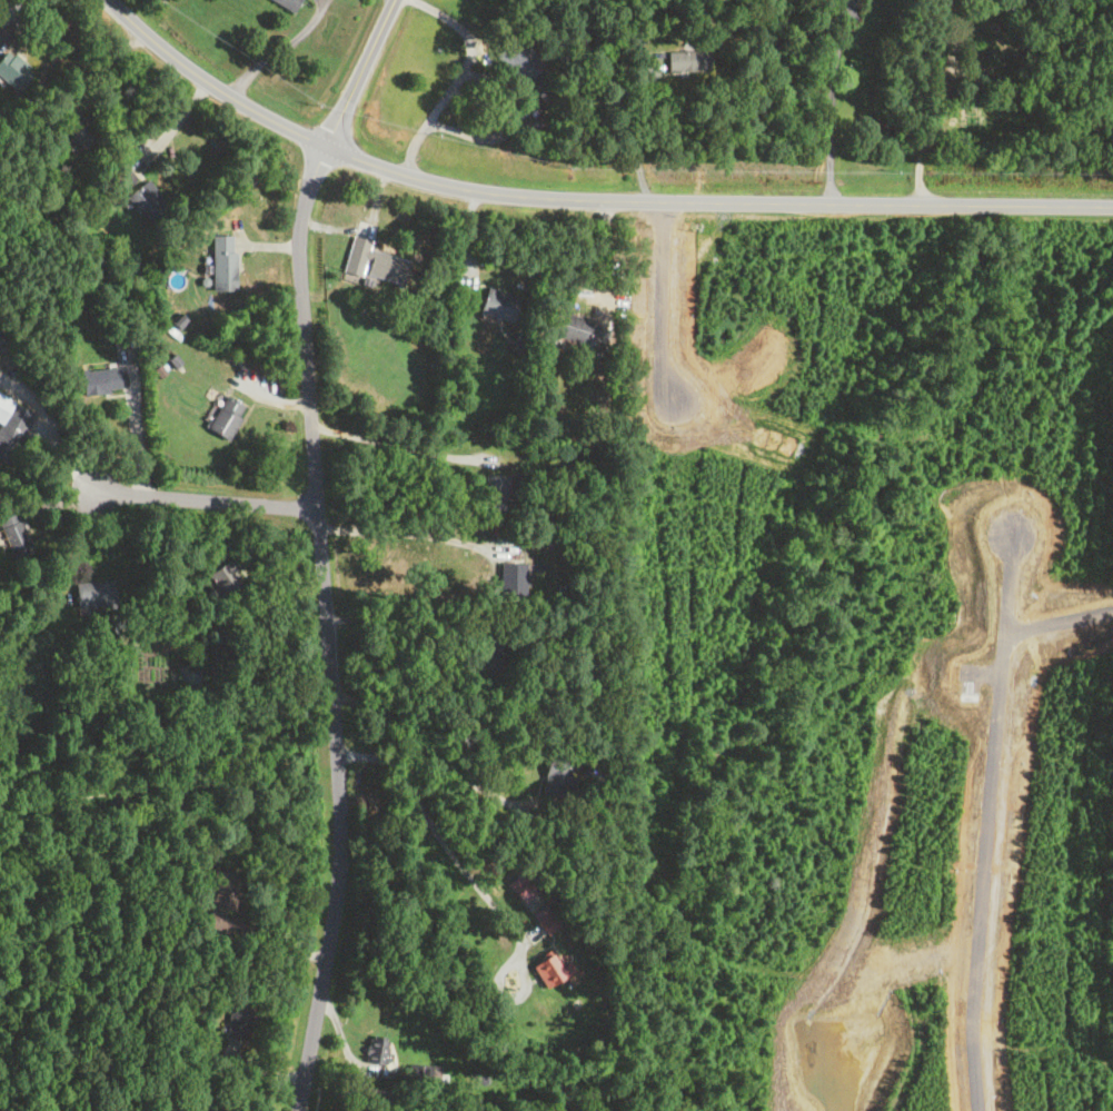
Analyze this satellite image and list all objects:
building: (286, 3)
road: (278, 49)
building: (686, 60)
building: (13, 69)
road: (360, 73)
building: (530, 76)
road: (453, 81)
road: (829, 105)
road: (942, 105)
road: (636, 132)
building: (77, 135)
building: (122, 177)
road: (584, 200)
building: (145, 201)
building: (221, 262)
building: (384, 267)
building: (496, 305)
building: (567, 327)
building: (98, 380)
building: (223, 417)
building: (10, 428)
road: (405, 448)
building: (490, 490)
road: (196, 500)
road: (406, 533)
building: (13, 536)
building: (222, 575)
building: (509, 577)
building: (92, 594)
road: (400, 613)
road: (1056, 615)
road: (330, 628)
building: (486, 654)
road: (431, 747)
building: (554, 776)
road: (983, 821)
road: (435, 825)
building: (217, 902)
building: (546, 922)
building: (546, 970)
building: (236, 1014)
building: (375, 1051)
building: (424, 1073)
building: (199, 1103)

